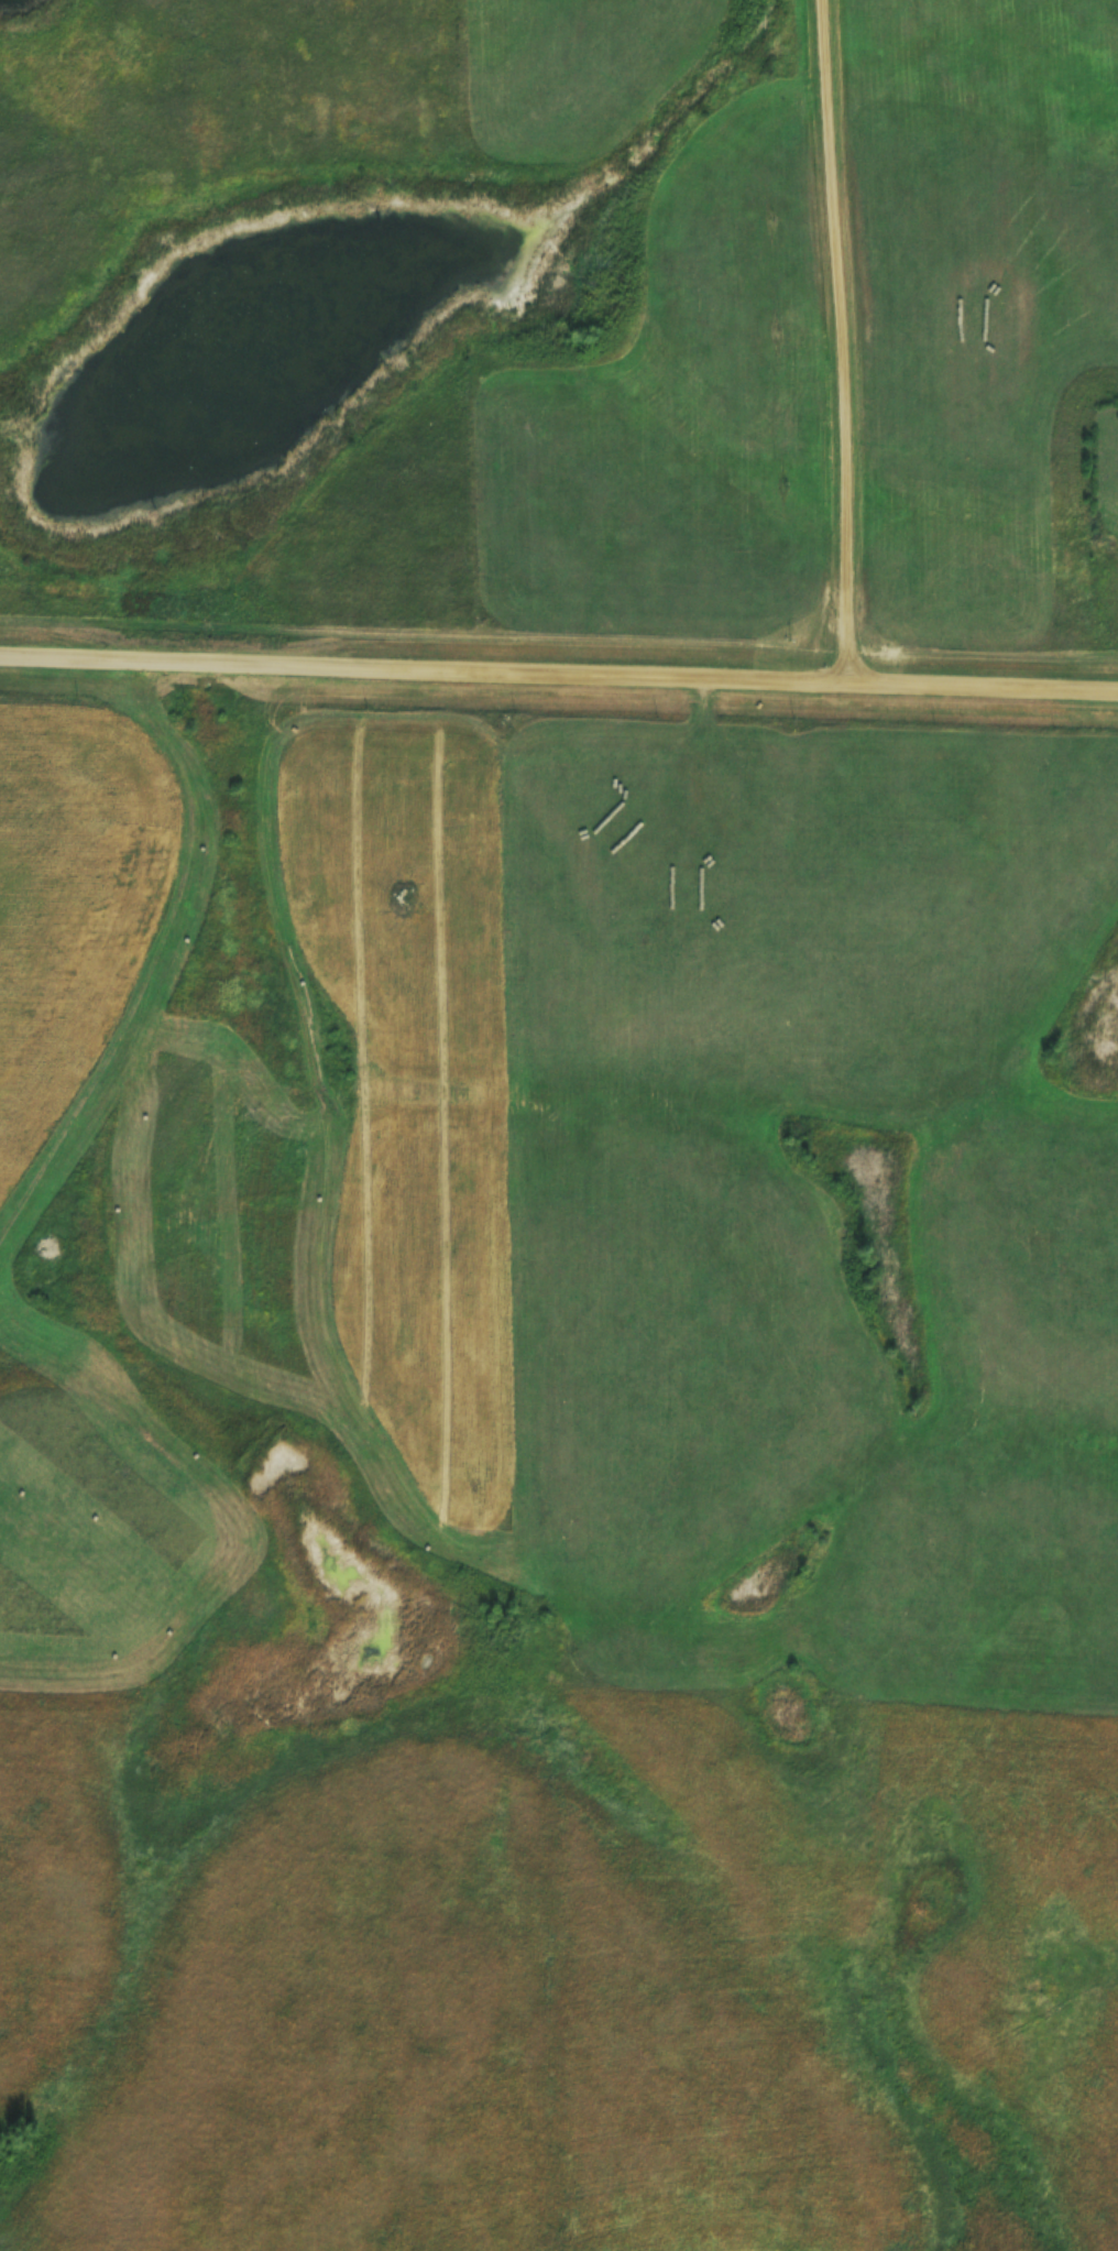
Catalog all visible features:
river: (336, 315)
road: (851, 342)
road: (558, 678)

